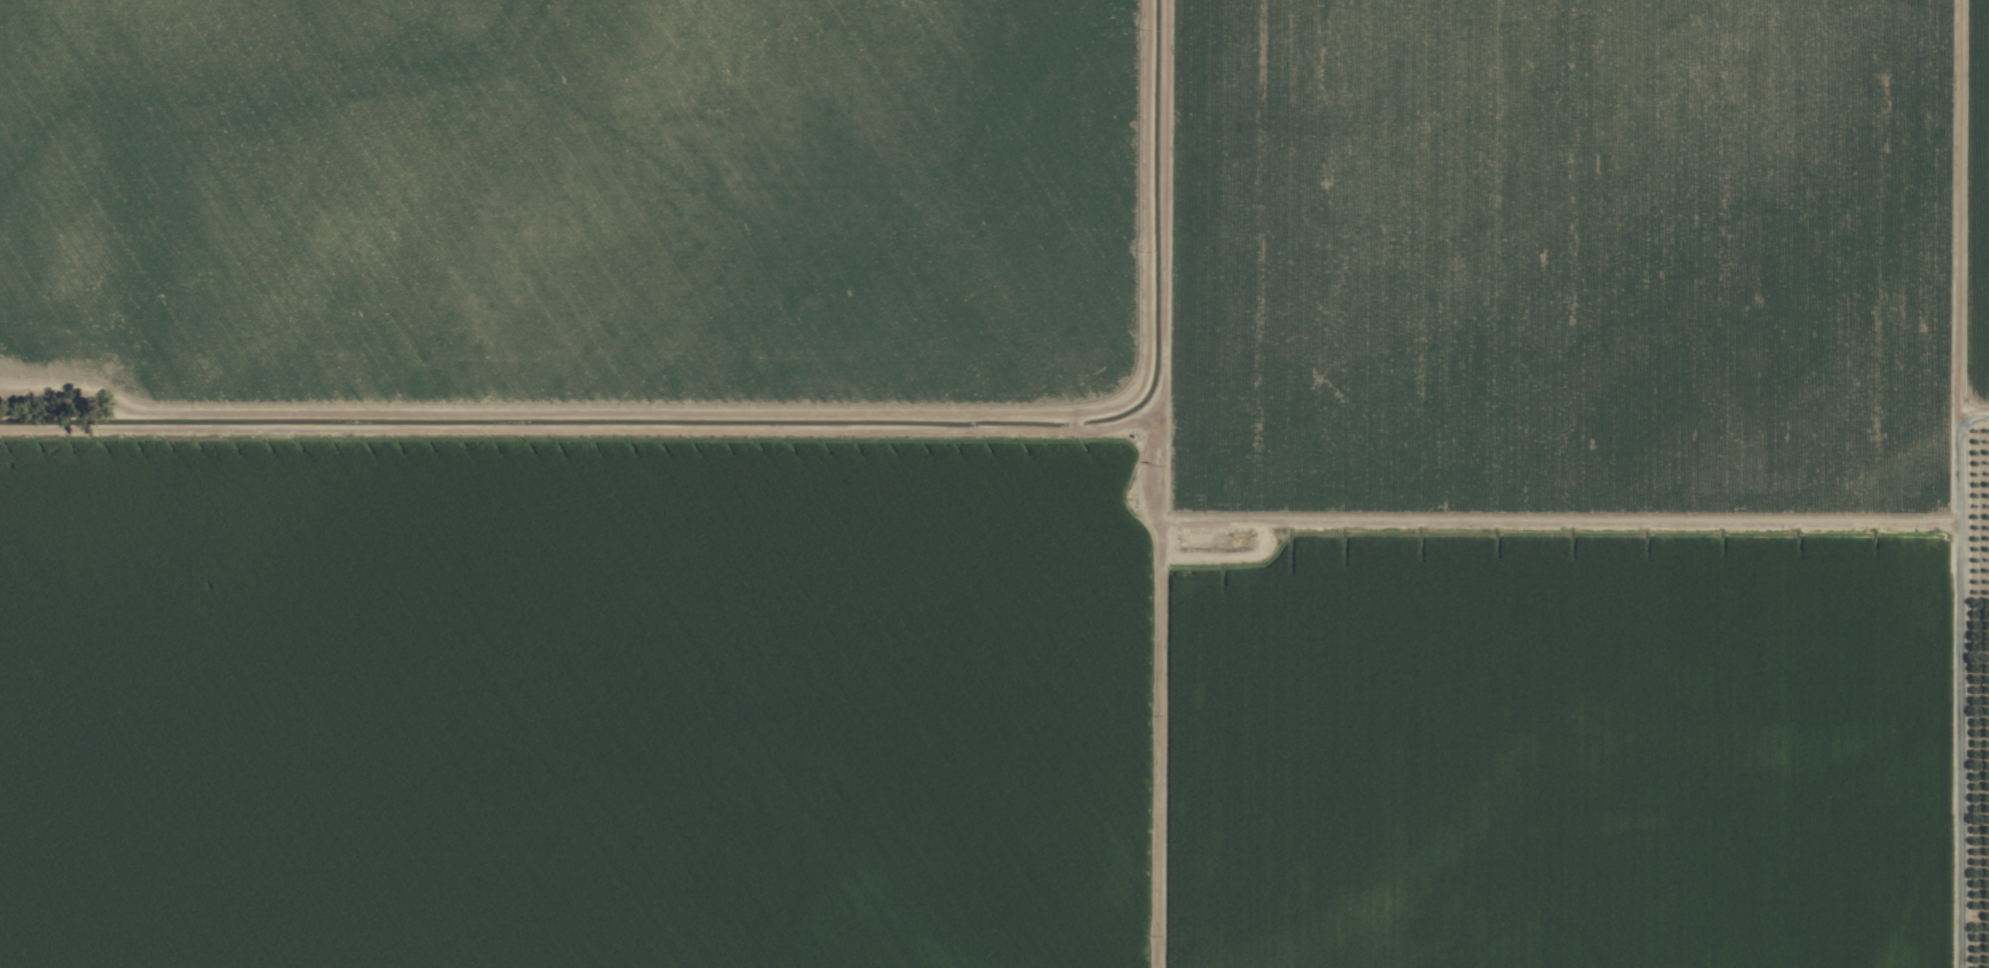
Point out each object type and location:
road: (769, 418)

